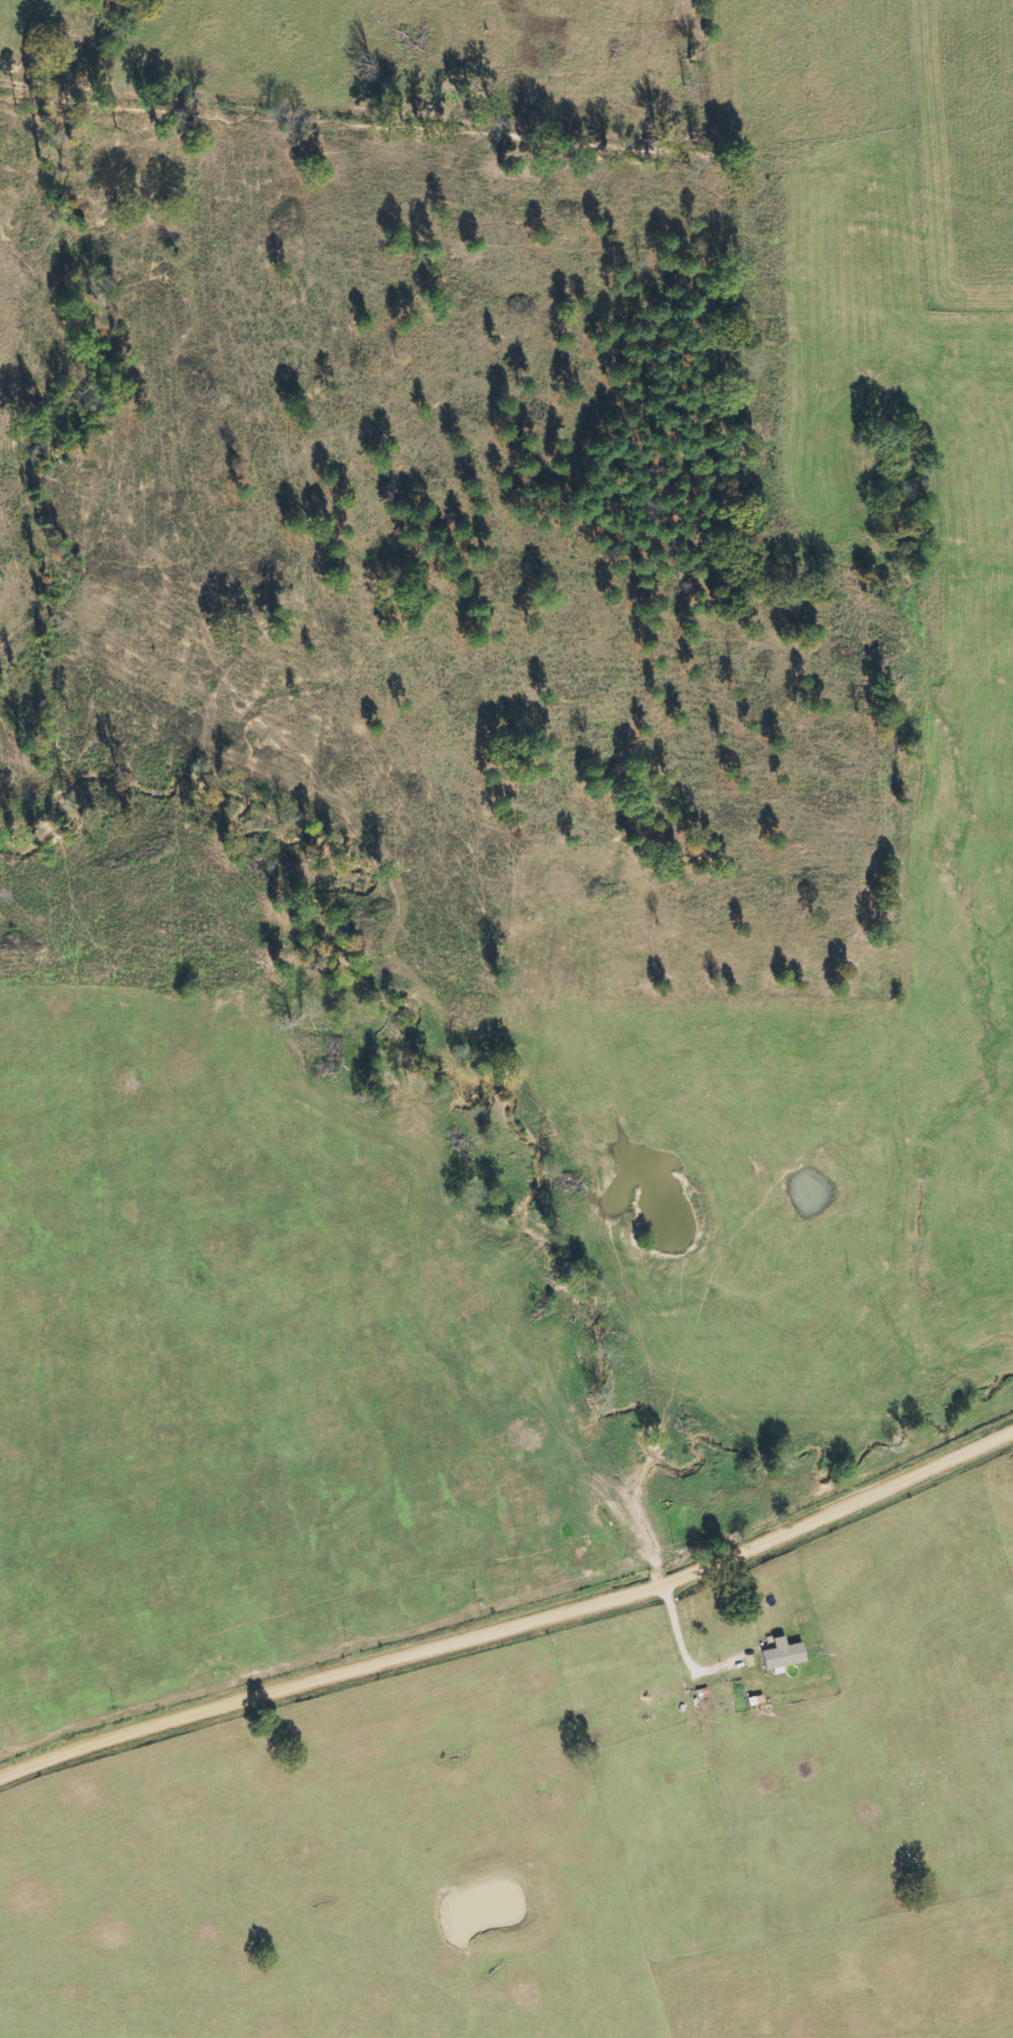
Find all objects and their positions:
road: (514, 1629)
building: (784, 1654)

